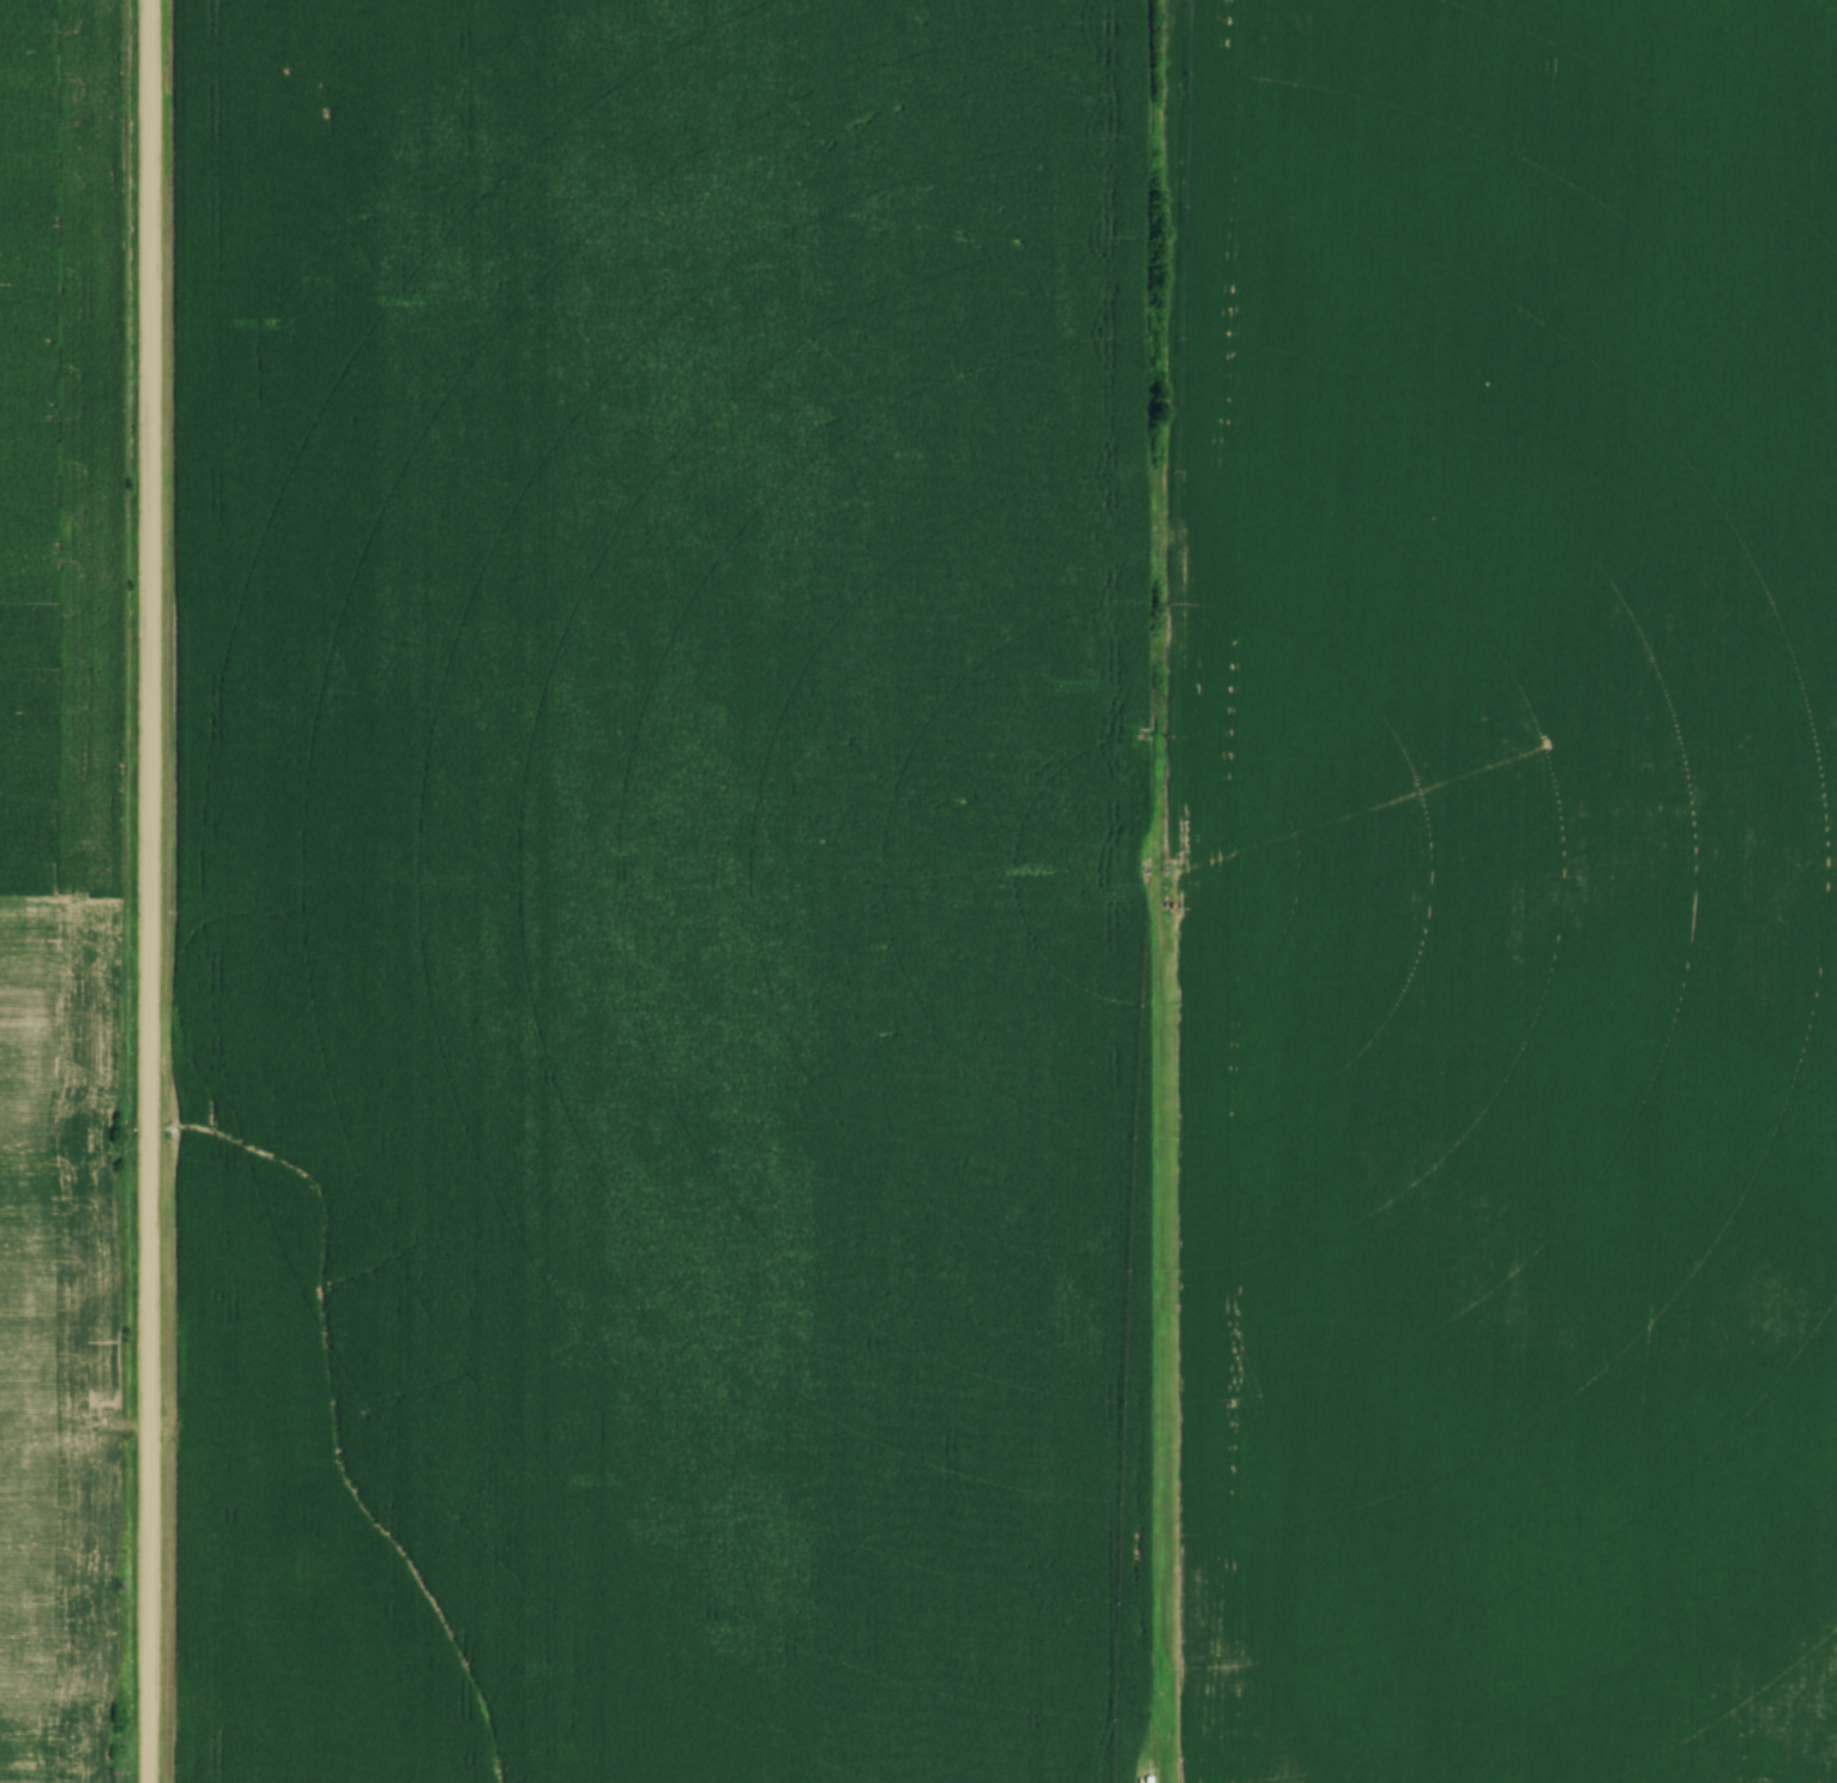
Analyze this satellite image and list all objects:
road: (151, 891)

